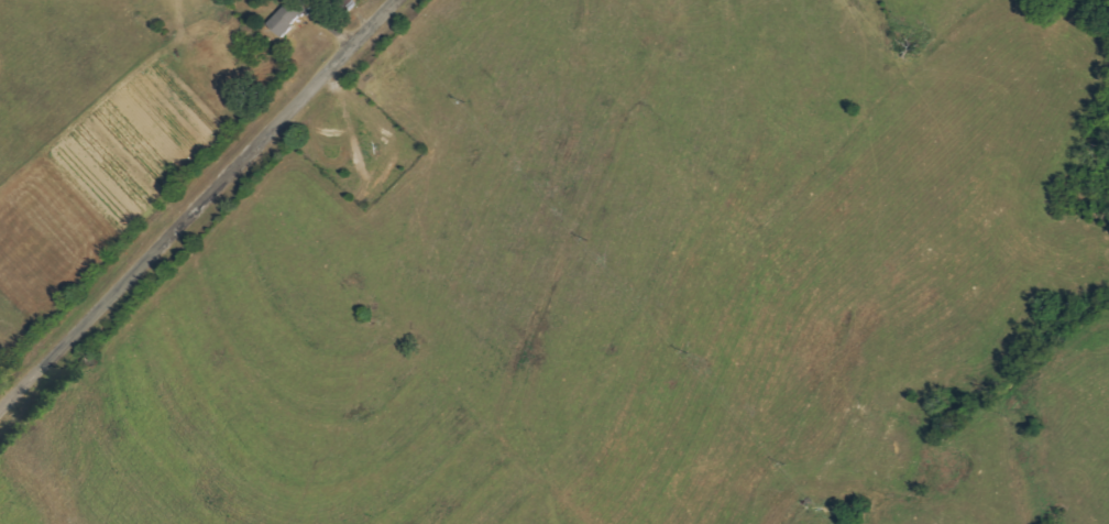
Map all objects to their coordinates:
building: (287, 19)
road: (199, 206)

